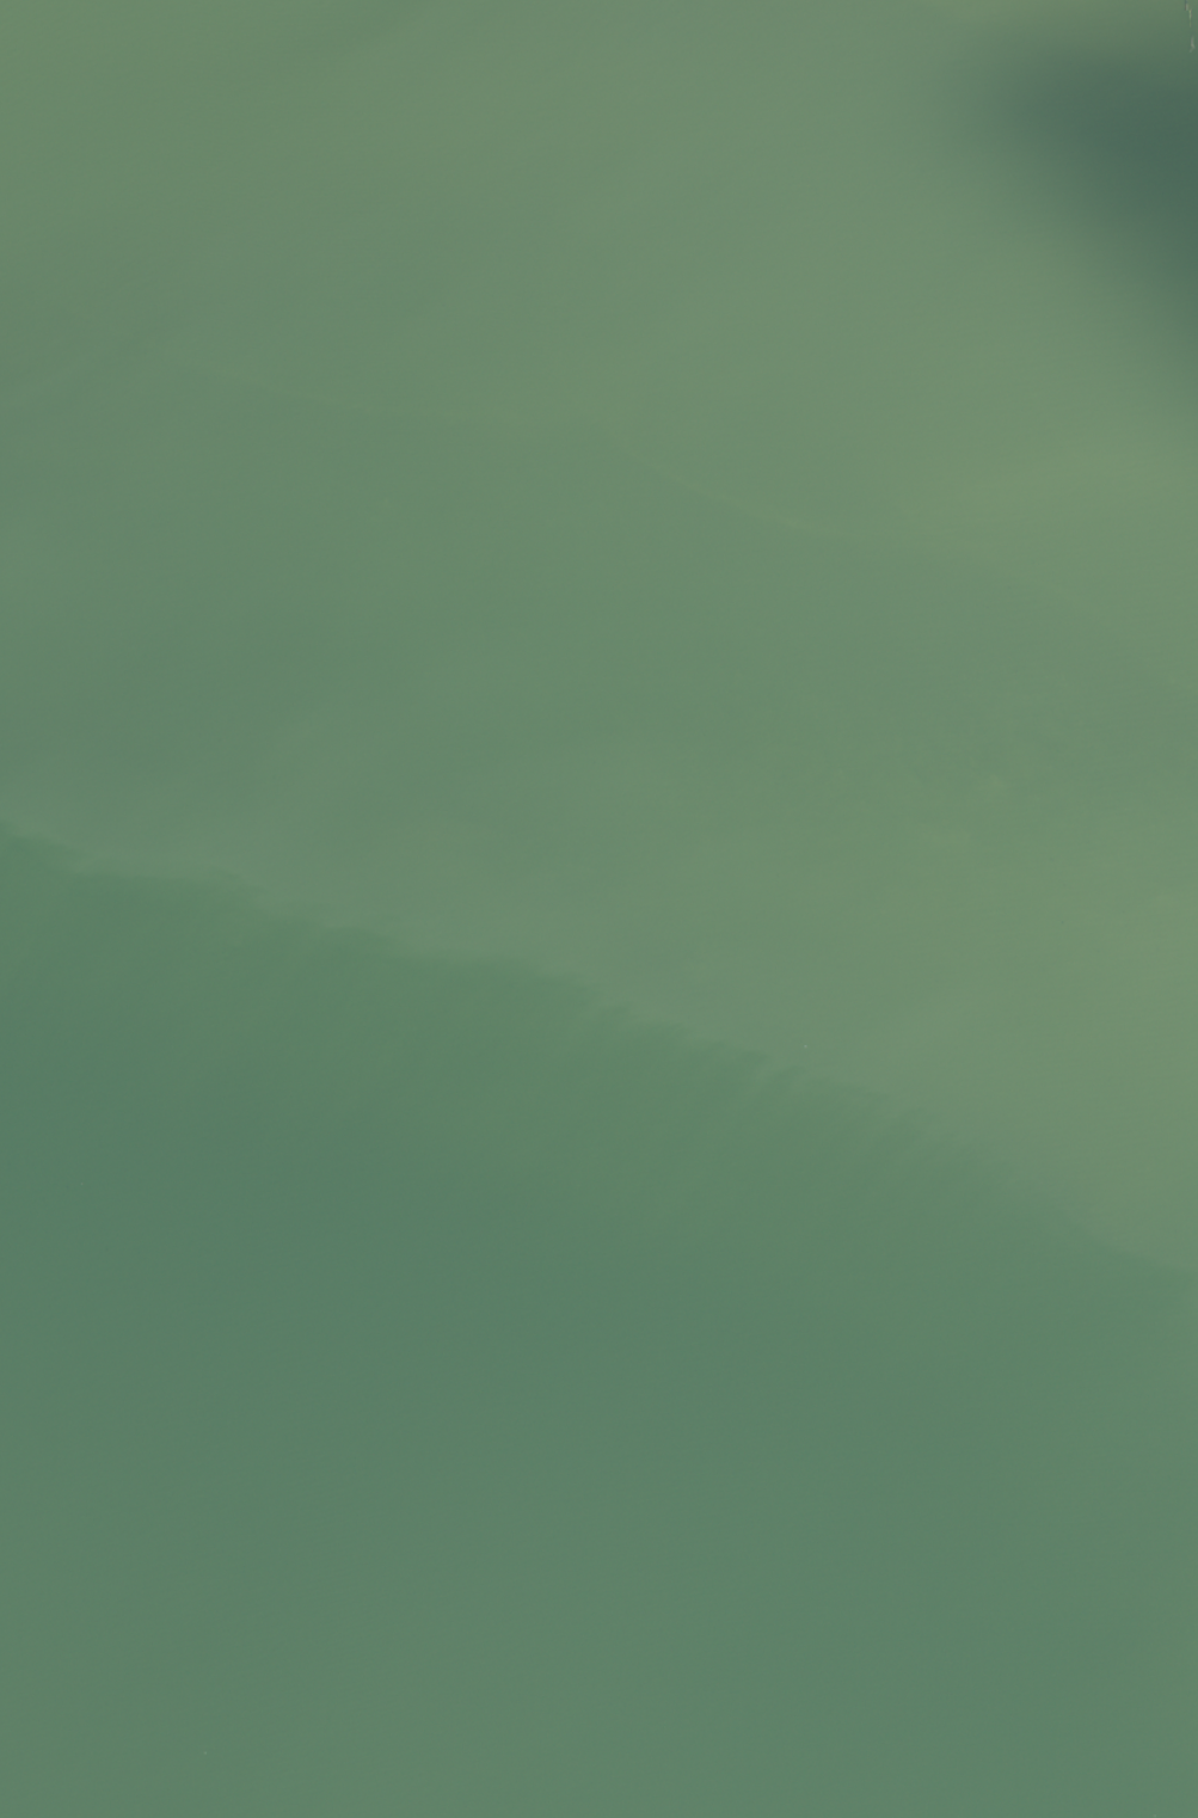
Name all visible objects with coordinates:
river: (301, 1623)

